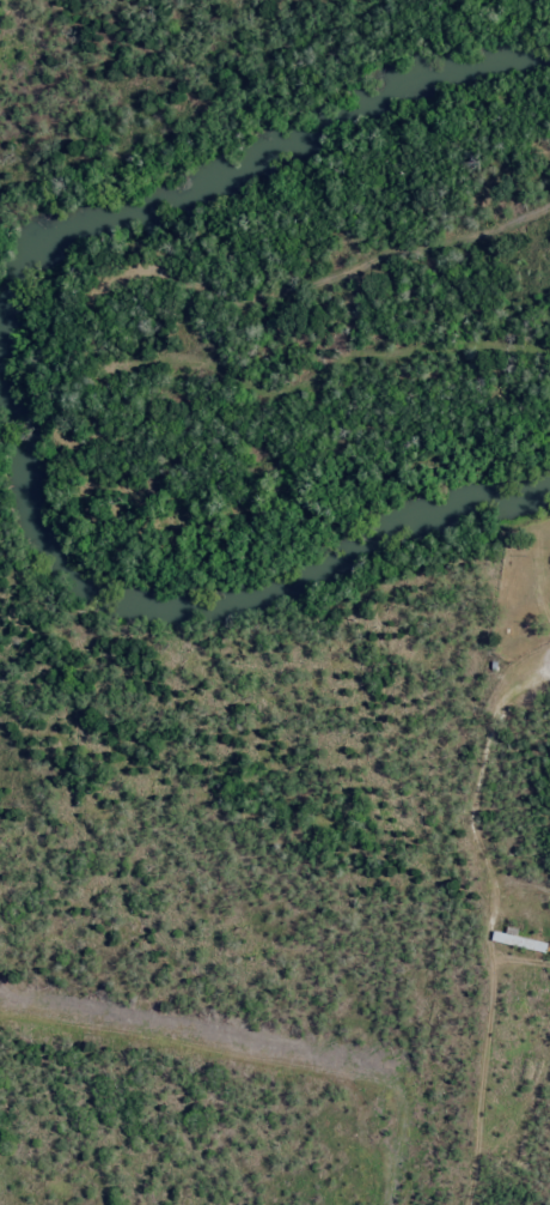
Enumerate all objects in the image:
river: (10, 396)

